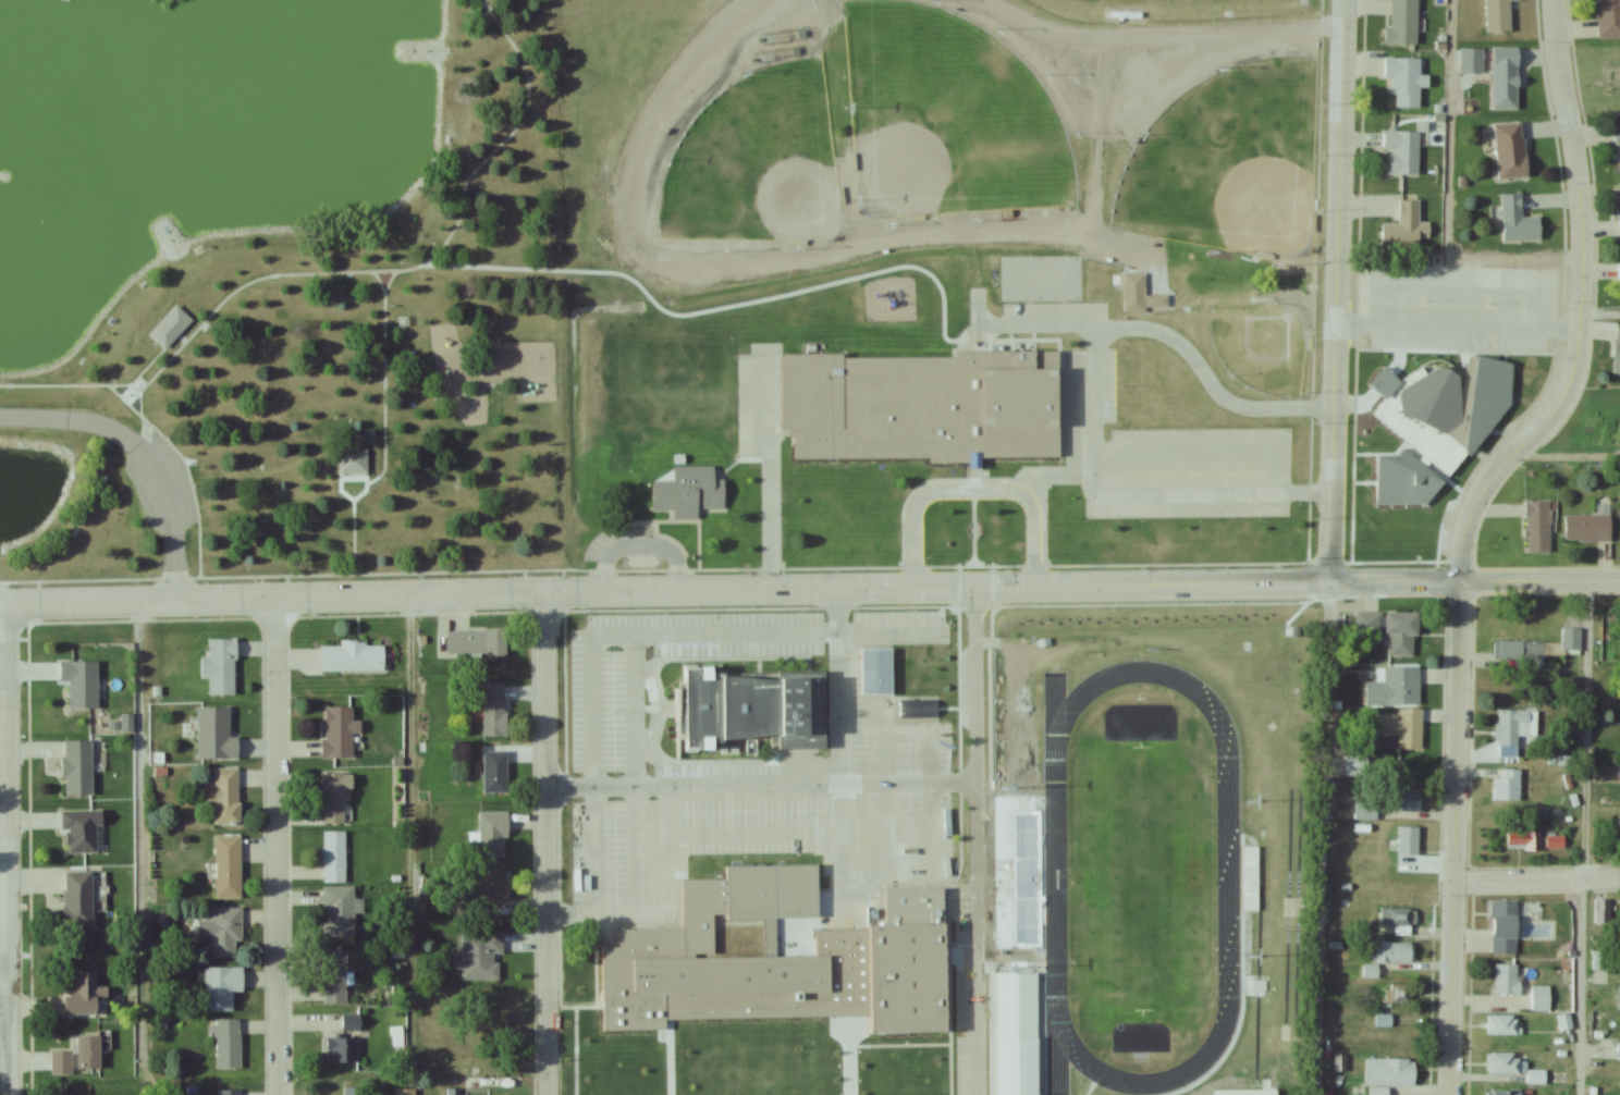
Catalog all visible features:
building: (1499, 14)
building: (1607, 19)
building: (1402, 23)
road: (1150, 40)
building: (1506, 78)
building: (1404, 81)
park: (946, 118)
building: (1618, 140)
road: (1097, 142)
building: (1510, 150)
building: (1402, 151)
park: (1228, 163)
park: (760, 164)
road: (1447, 196)
building: (1619, 213)
building: (1518, 221)
building: (1403, 226)
road: (747, 269)
building: (1618, 271)
park: (279, 288)
road: (1334, 291)
road: (1599, 312)
building: (170, 327)
road: (1095, 337)
road: (1170, 339)
building: (1617, 353)
building: (1433, 399)
parking lot: (757, 403)
building: (1486, 405)
building: (923, 407)
road: (769, 411)
parking lot: (1164, 458)
road: (137, 459)
building: (354, 463)
road: (1051, 476)
road: (971, 488)
road: (1224, 490)
road: (1302, 490)
building: (690, 492)
road: (769, 526)
road: (1464, 527)
building: (1537, 527)
building: (1588, 528)
road: (638, 545)
road: (809, 589)
road: (836, 601)
building: (1394, 630)
building: (1571, 639)
building: (476, 643)
building: (1523, 652)
building: (353, 657)
building: (220, 667)
building: (876, 673)
building: (79, 684)
building: (1394, 687)
building: (494, 710)
building: (754, 711)
building: (1402, 728)
building: (1511, 730)
building: (339, 733)
building: (214, 735)
road: (839, 750)
road: (592, 765)
building: (1357, 766)
building: (77, 767)
parking lot: (747, 768)
building: (494, 773)
road: (760, 784)
road: (881, 784)
building: (1507, 786)
building: (224, 797)
building: (332, 798)
road: (936, 798)
building: (1404, 800)
building: (1366, 810)
building: (81, 832)
road: (754, 833)
building: (492, 835)
road: (1582, 837)
road: (1323, 838)
road: (973, 840)
building: (1408, 840)
building: (1522, 840)
road: (548, 842)
building: (1555, 842)
road: (406, 845)
road: (273, 847)
road: (139, 848)
road: (5, 849)
building: (1032, 856)
building: (333, 857)
road: (908, 862)
building: (226, 866)
building: (1249, 877)
park: (1138, 878)
road: (1536, 878)
track: (1141, 879)
road: (868, 884)
building: (494, 888)
building: (77, 899)
building: (1601, 911)
building: (337, 912)
building: (1398, 920)
building: (1504, 926)
building: (225, 932)
building: (1031, 934)
building: (1395, 951)
building: (480, 955)
building: (1600, 959)
building: (784, 962)
building: (334, 976)
building: (1507, 977)
road: (3, 983)
building: (221, 988)
building: (85, 996)
building: (1541, 997)
building: (1619, 997)
building: (1015, 999)
building: (489, 1007)
building: (1564, 1021)
building: (1504, 1024)
building: (345, 1042)
building: (228, 1045)
building: (88, 1054)
building: (1504, 1061)
building: (61, 1062)
building: (1011, 1065)
building: (1389, 1071)
building: (475, 1084)
building: (352, 1091)
building: (230, 1092)
building: (404, 1092)
building: (1505, 1092)

